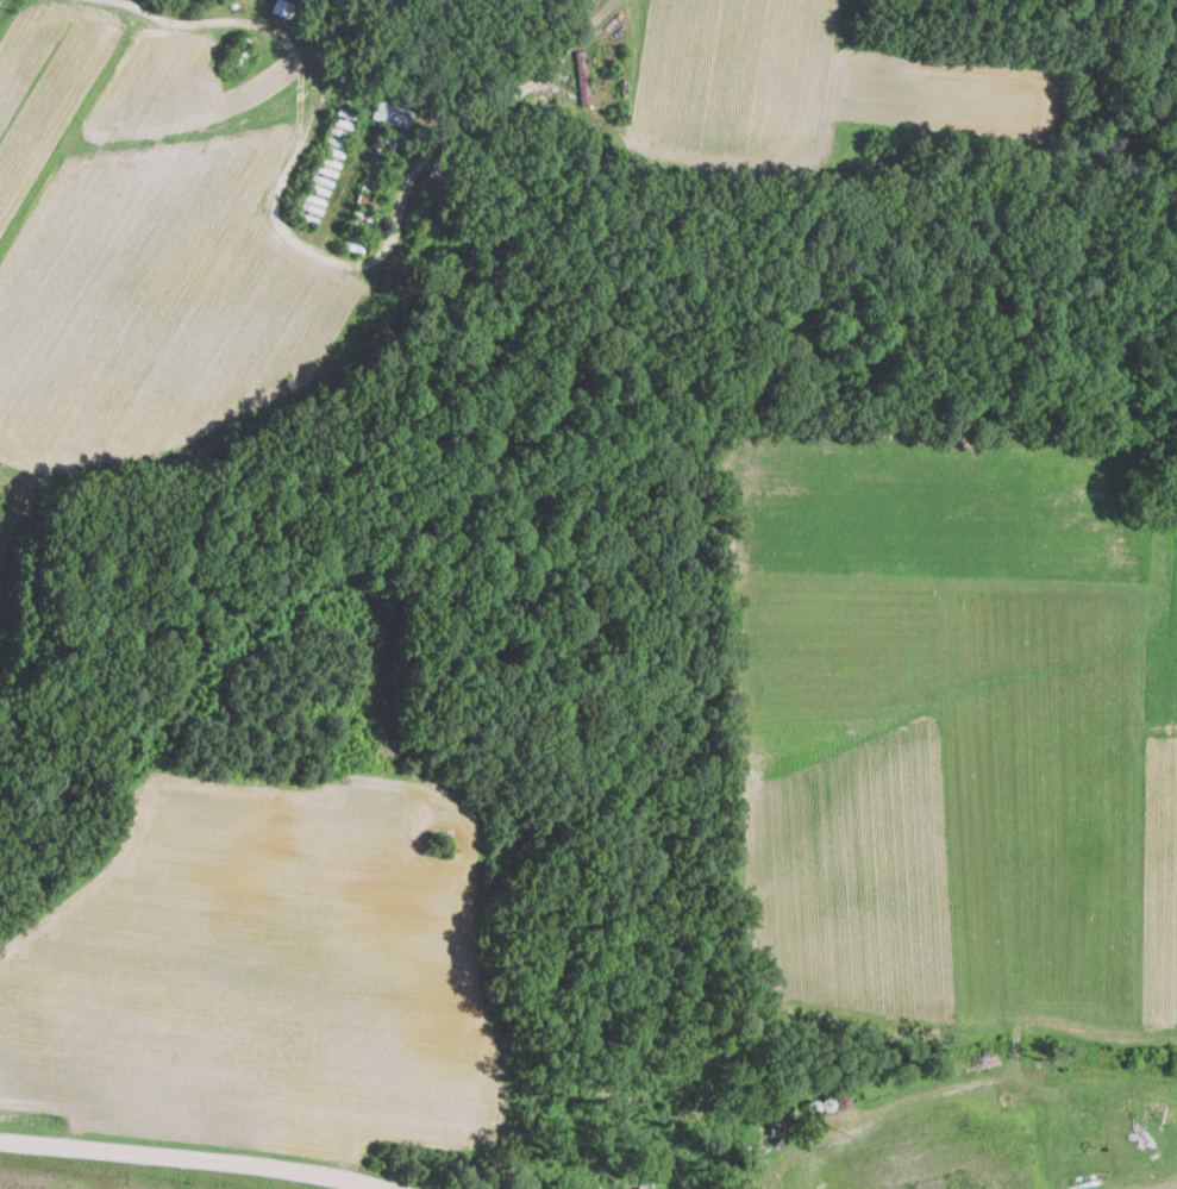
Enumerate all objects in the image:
building: (280, 7)
road: (336, 75)
building: (583, 76)
building: (392, 113)
road: (315, 243)
road: (179, 1164)

